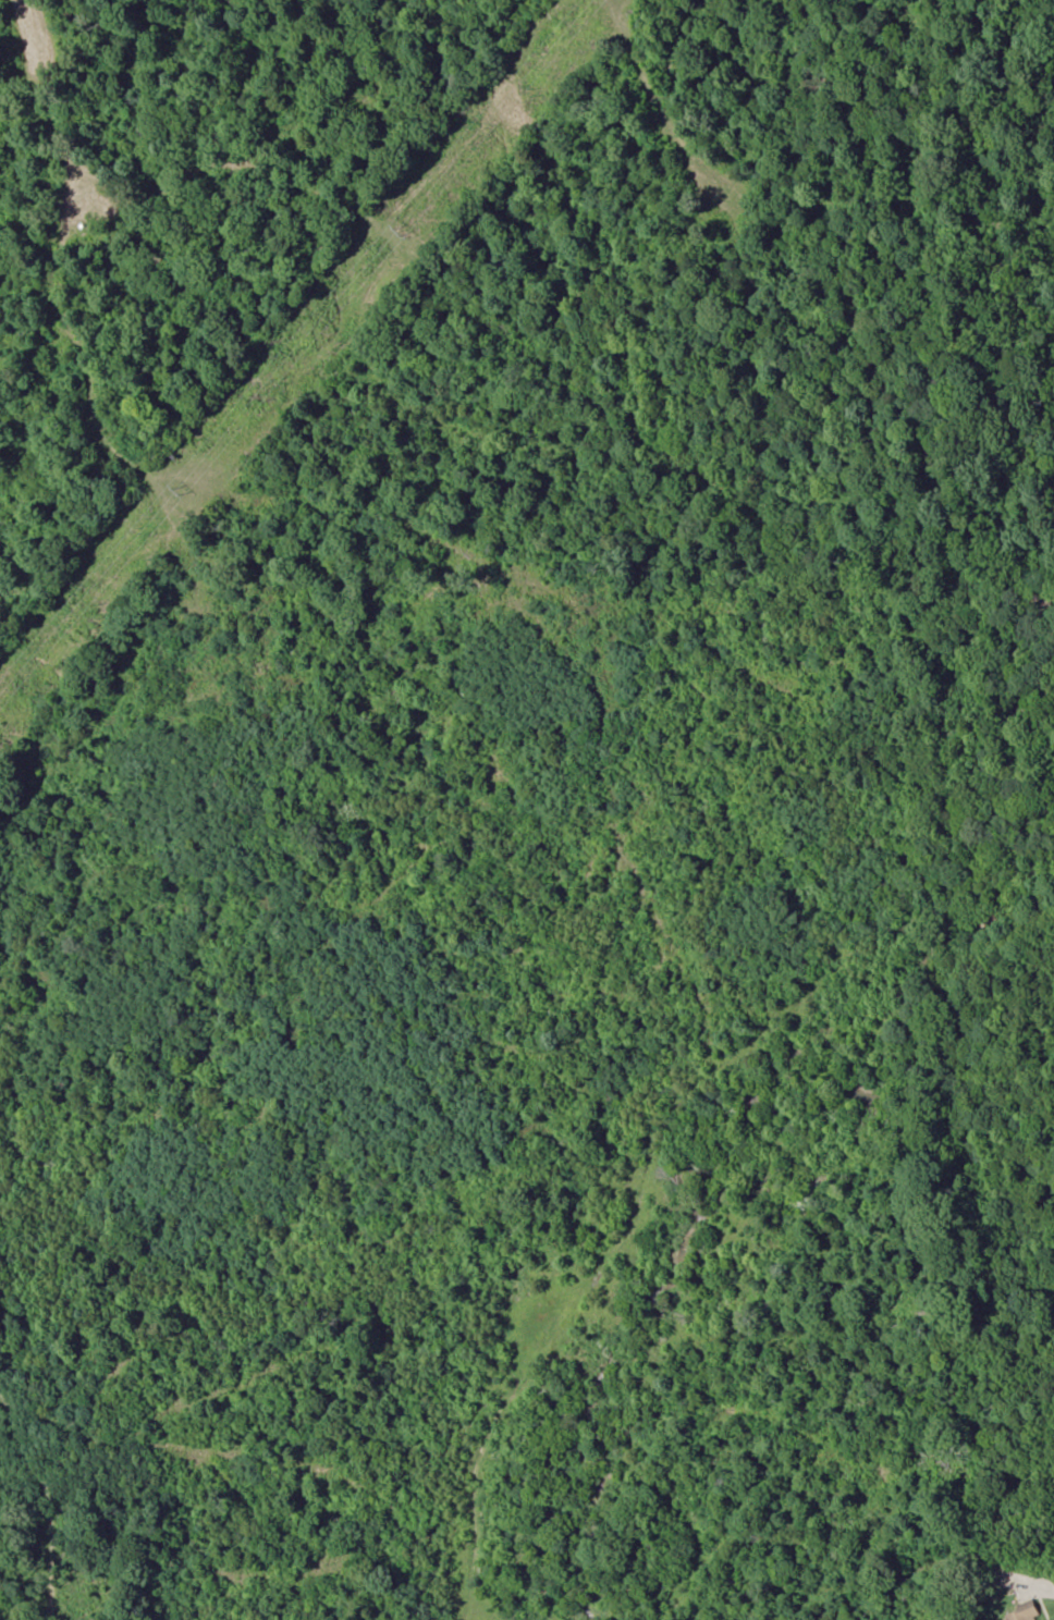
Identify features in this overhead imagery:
building: (1024, 1612)

